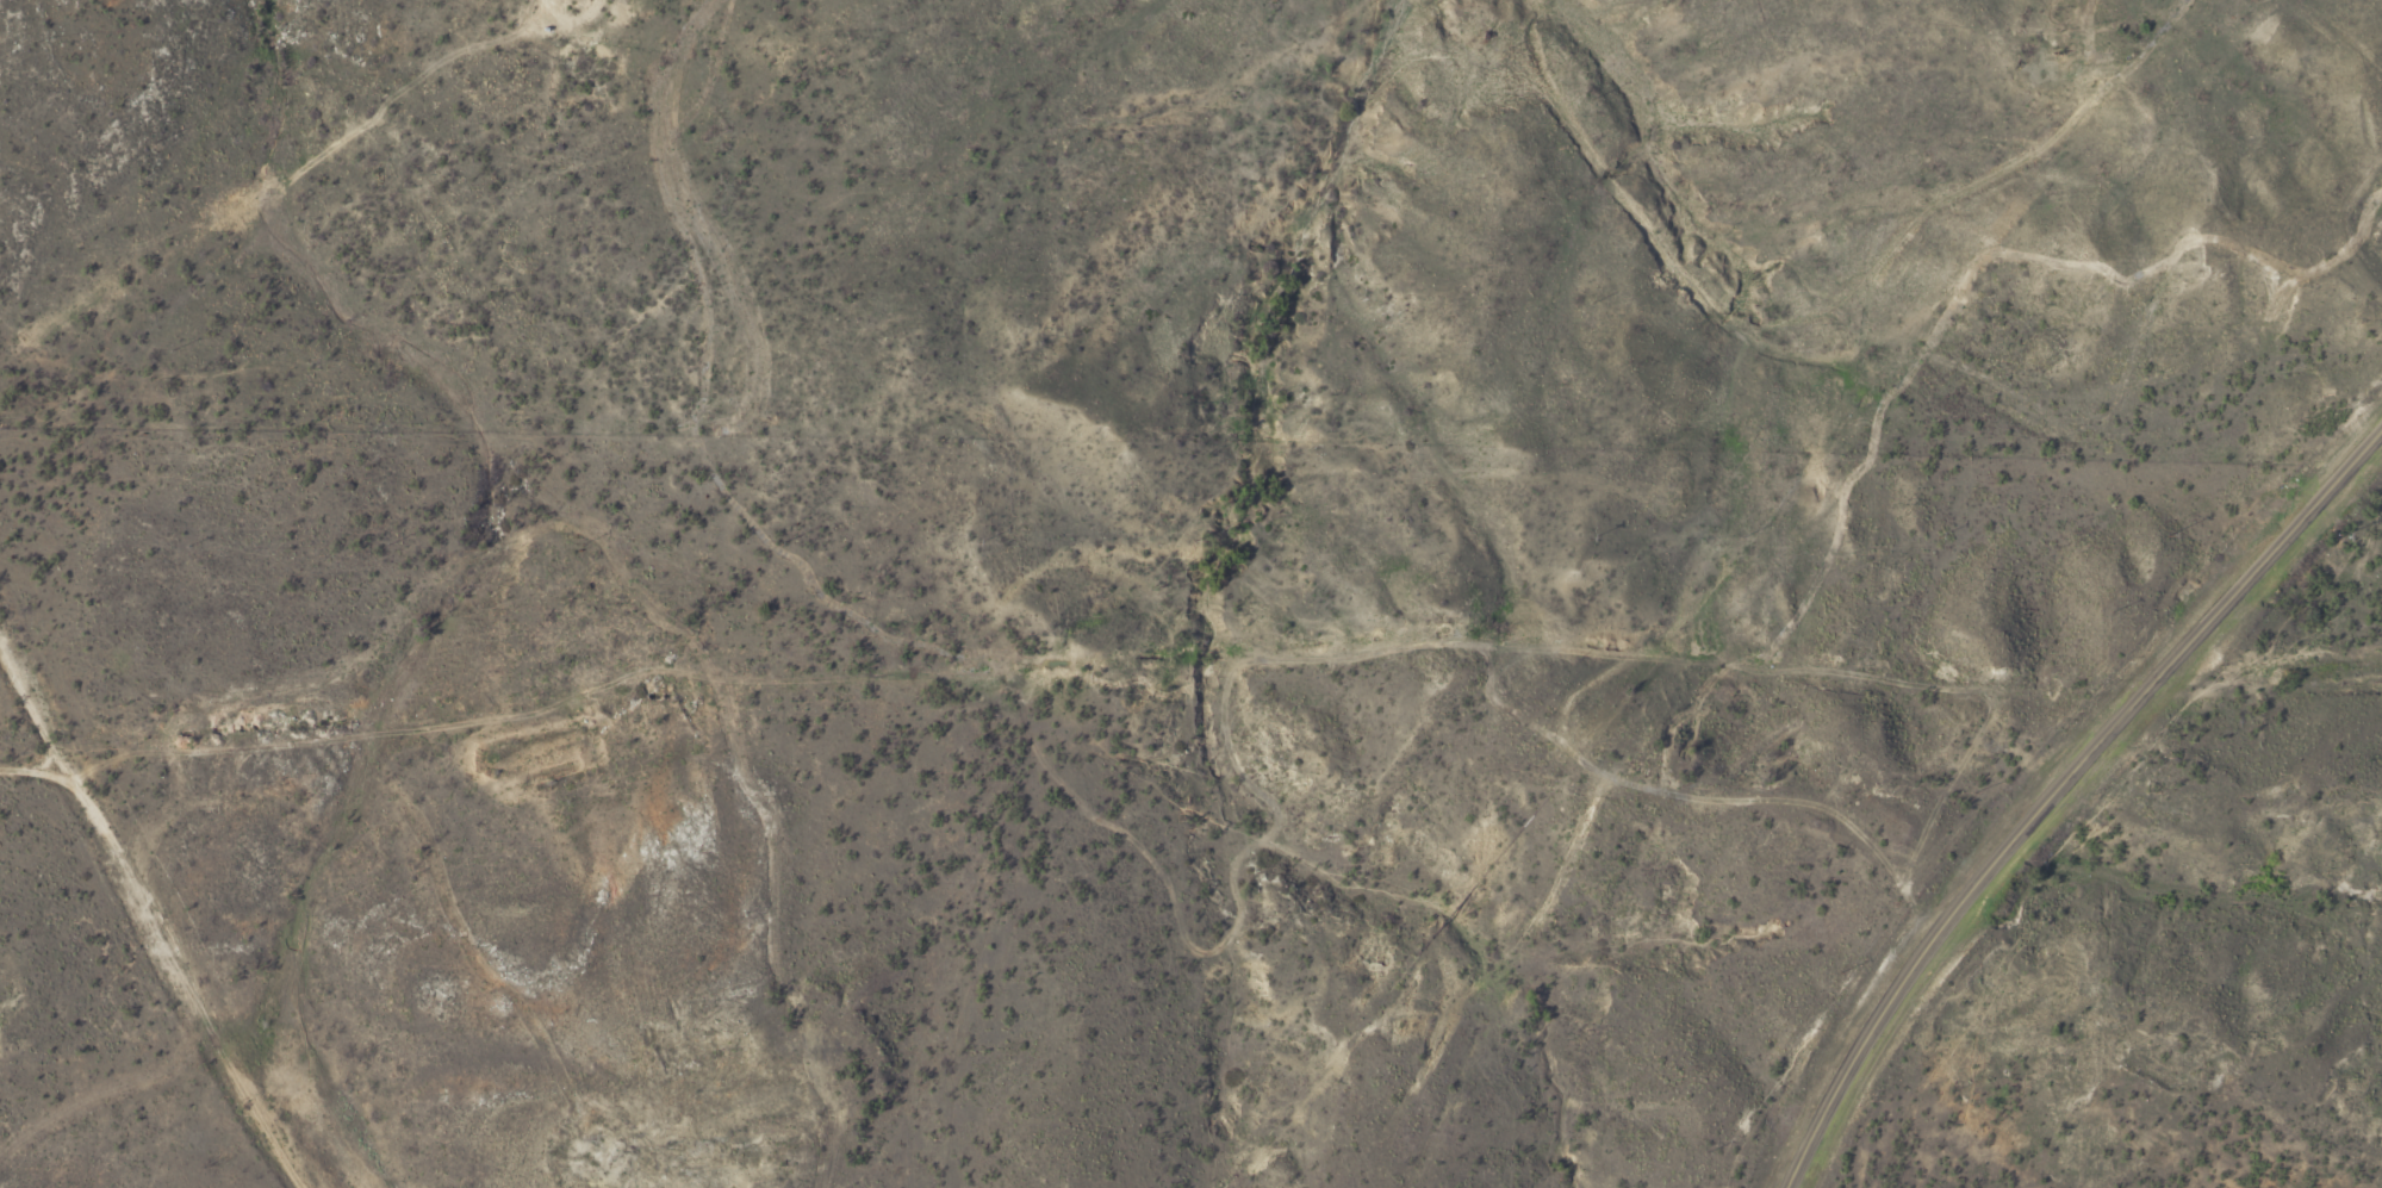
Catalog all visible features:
road: (2060, 795)
road: (147, 928)

